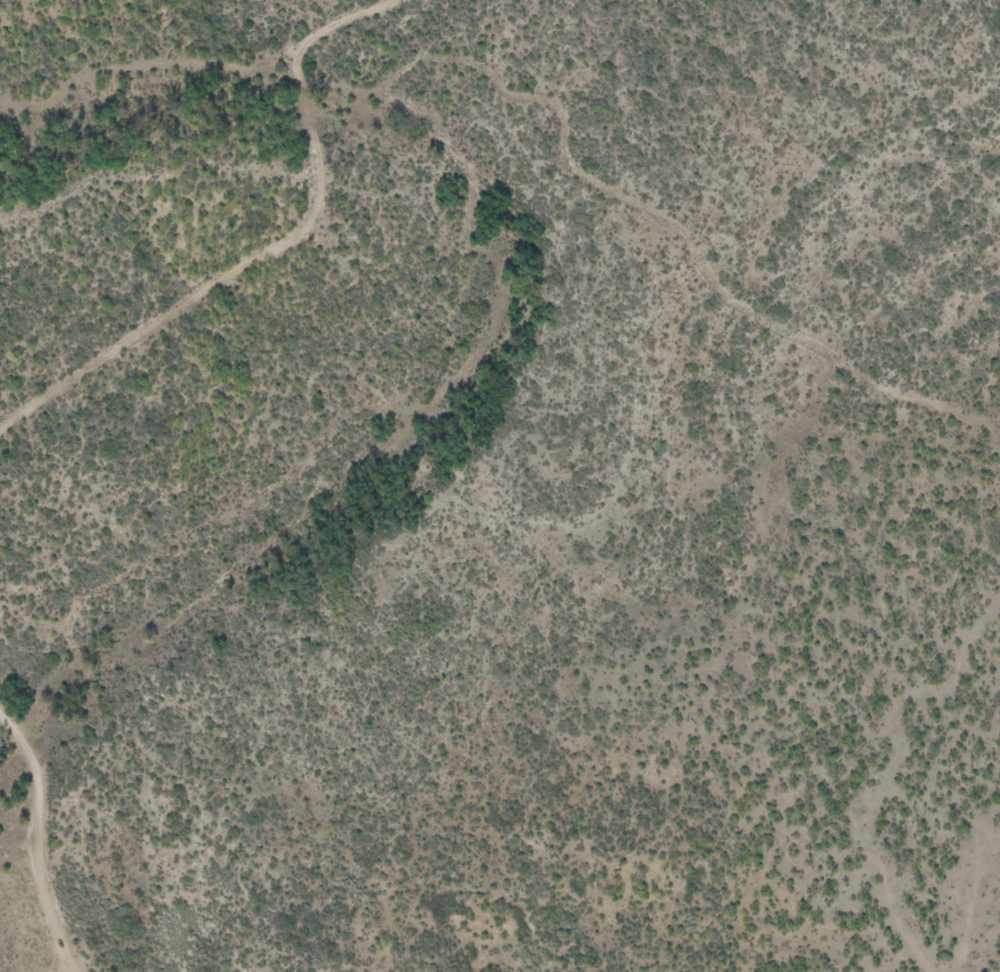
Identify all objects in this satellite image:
road: (51, 829)

